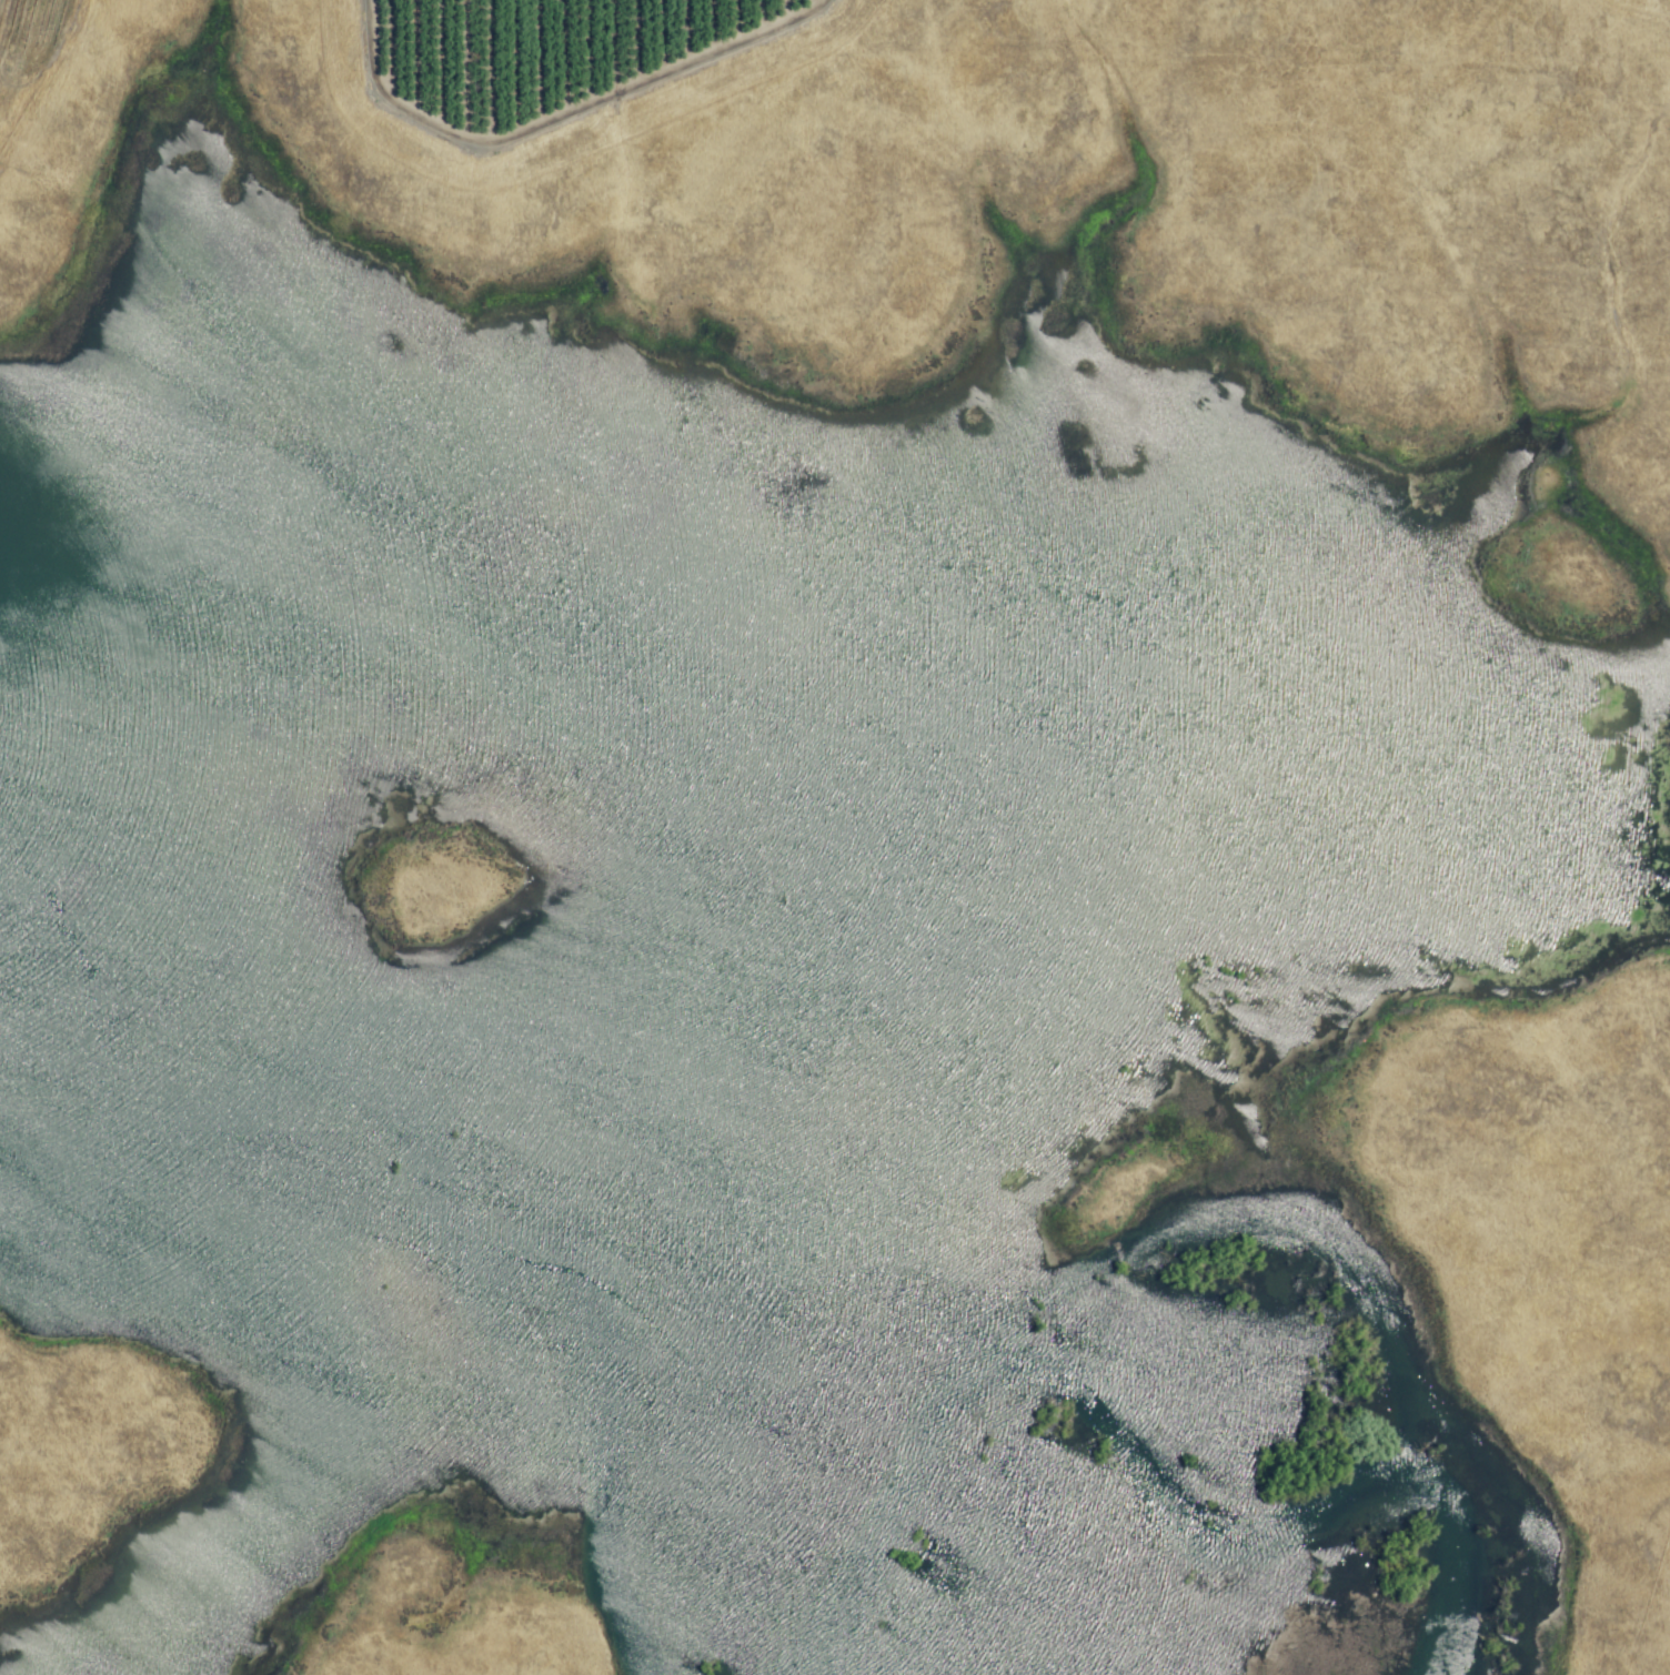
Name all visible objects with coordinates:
crop: (535, 52)

